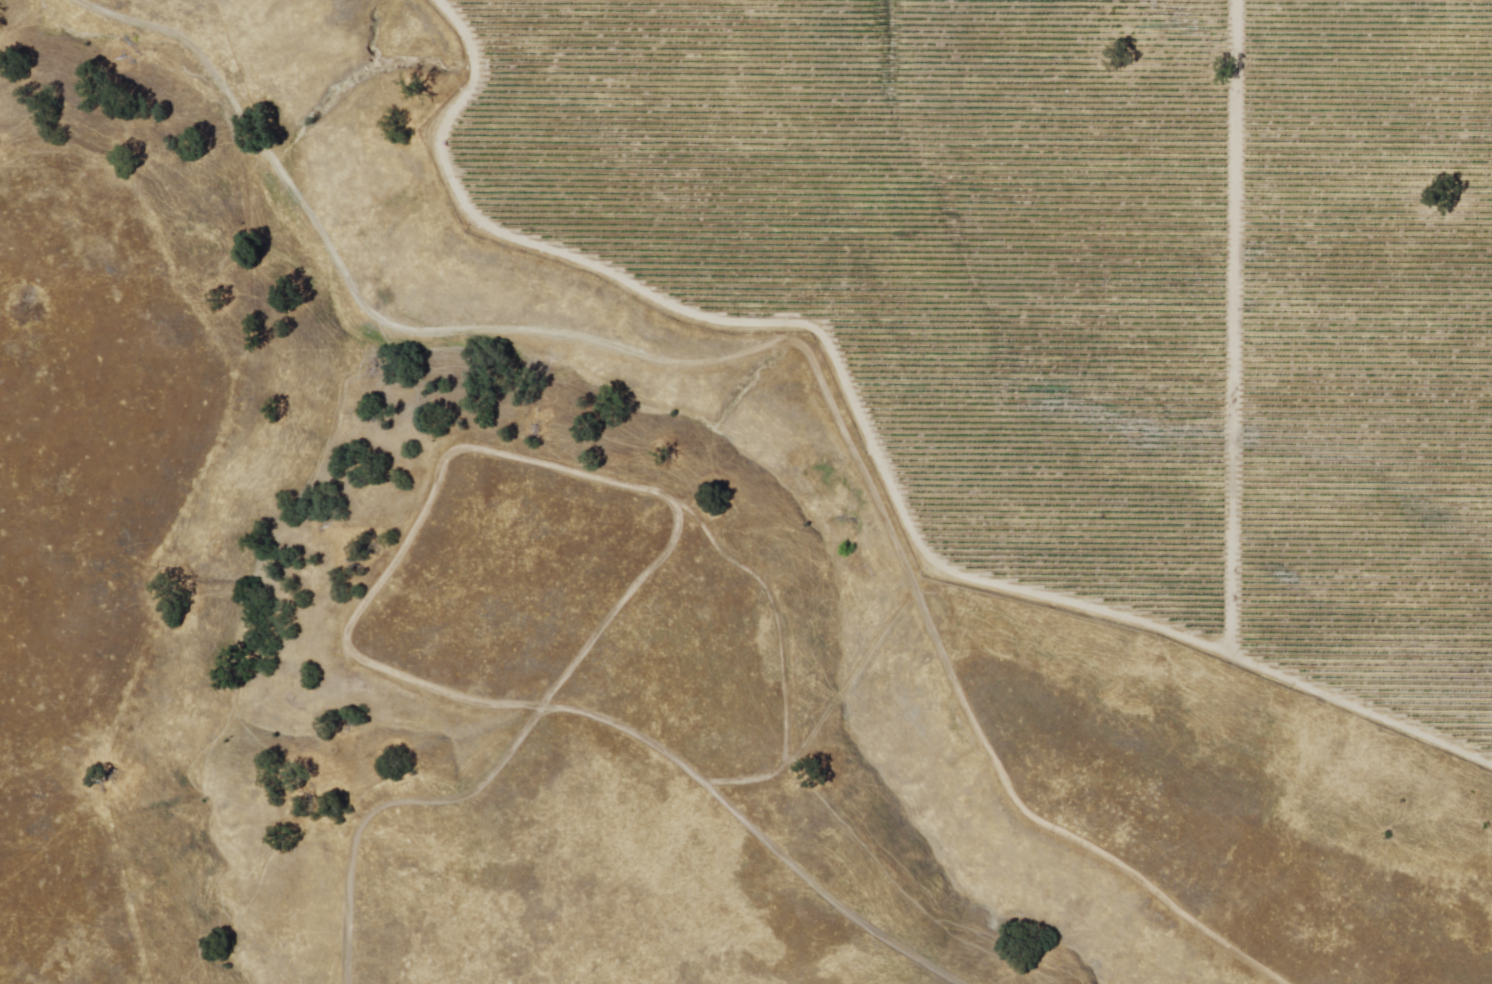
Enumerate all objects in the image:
road: (1232, 327)
road: (766, 347)
road: (870, 438)
road: (549, 464)
road: (850, 685)
road: (506, 758)
road: (753, 833)

